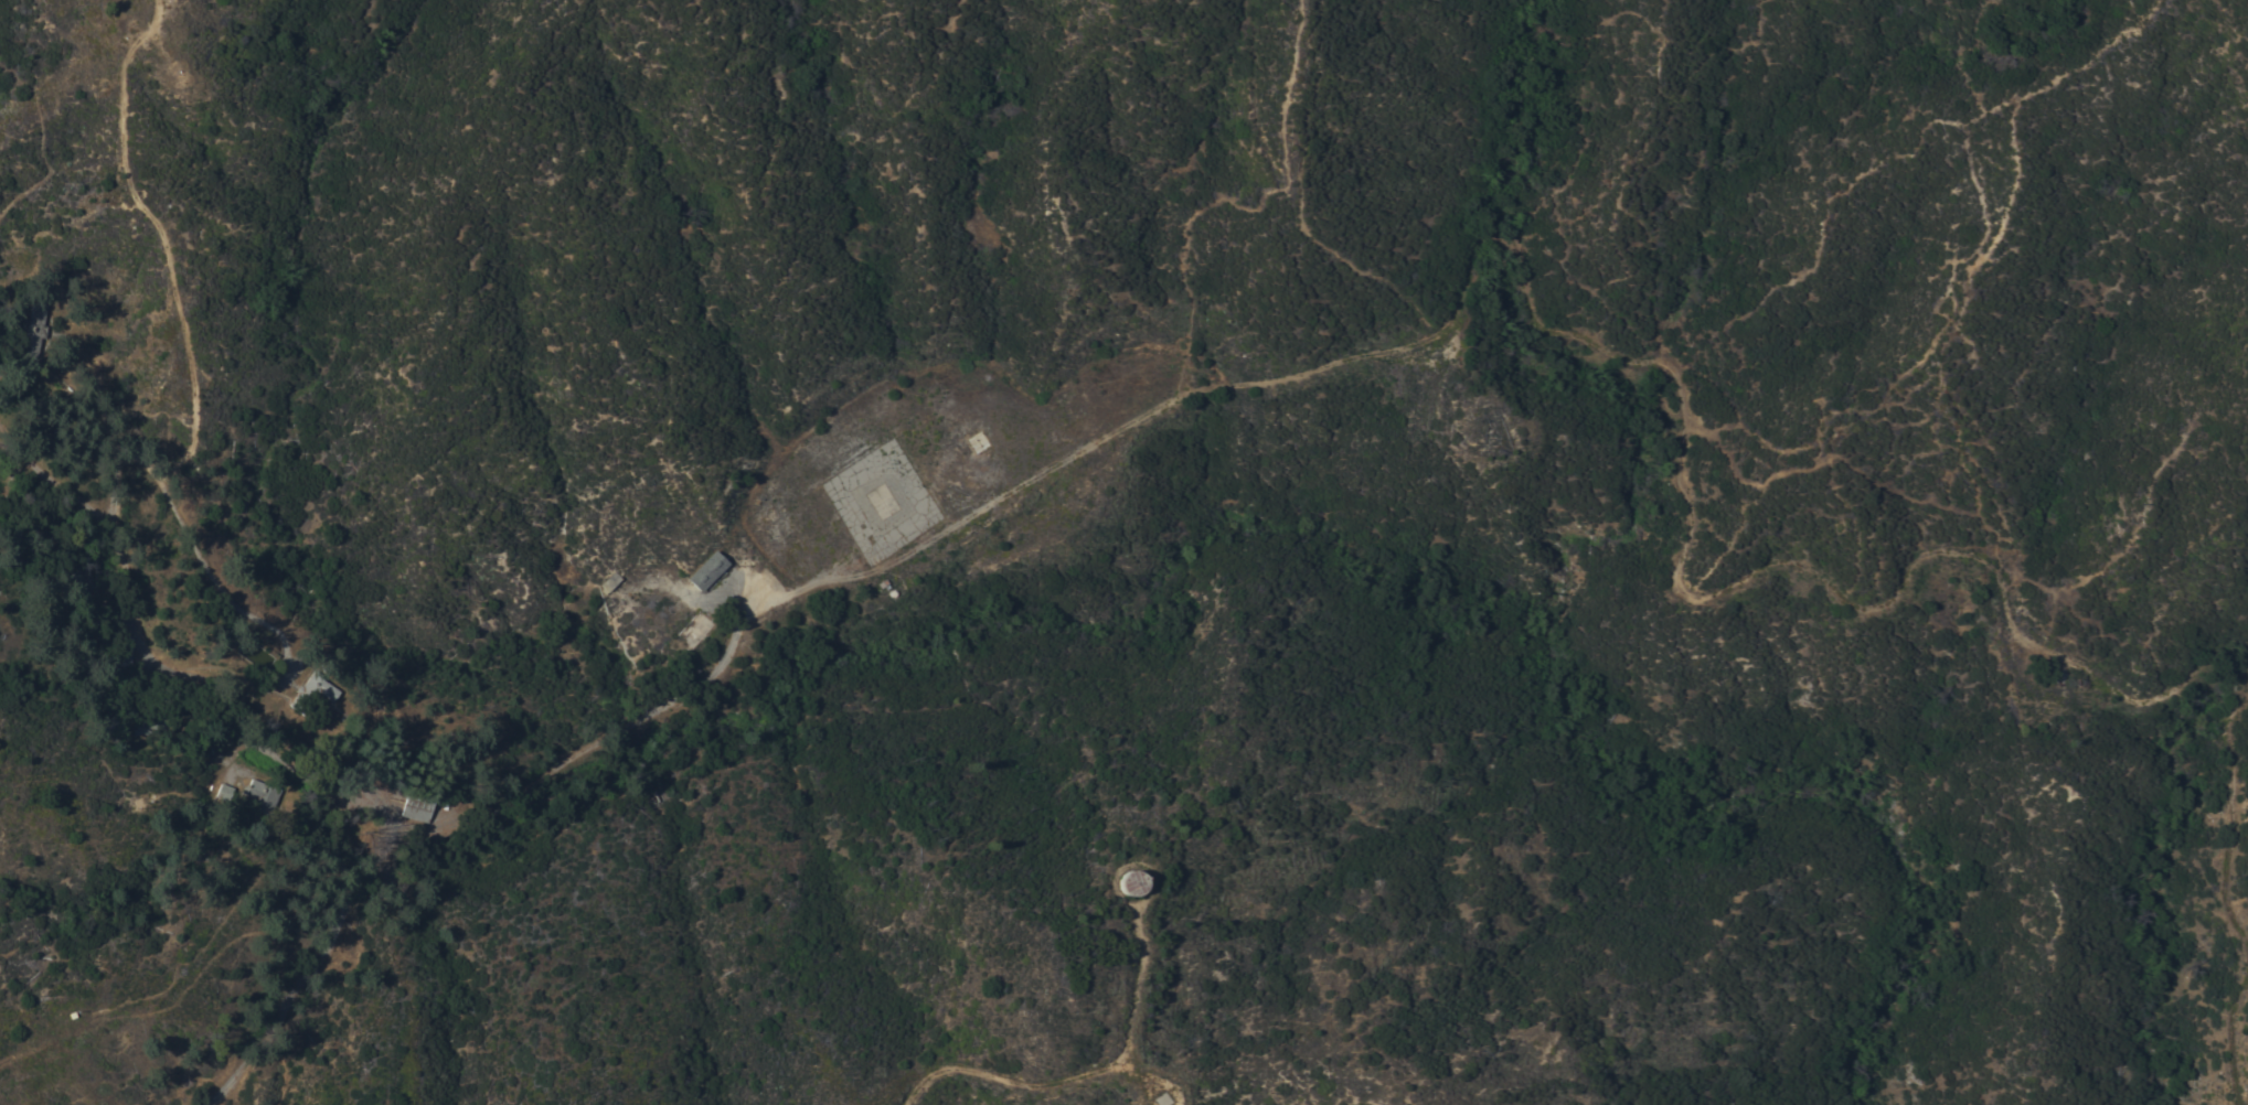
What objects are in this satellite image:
road: (1292, 196)
road: (1576, 199)
road: (182, 321)
building: (30, 325)
road: (1574, 344)
building: (706, 569)
building: (122, 657)
road: (198, 670)
road: (257, 686)
building: (311, 690)
building: (157, 725)
building: (223, 791)
building: (262, 794)
building: (416, 804)
road: (460, 835)
building: (1129, 881)
road: (1085, 1080)
road: (2227, 1088)

